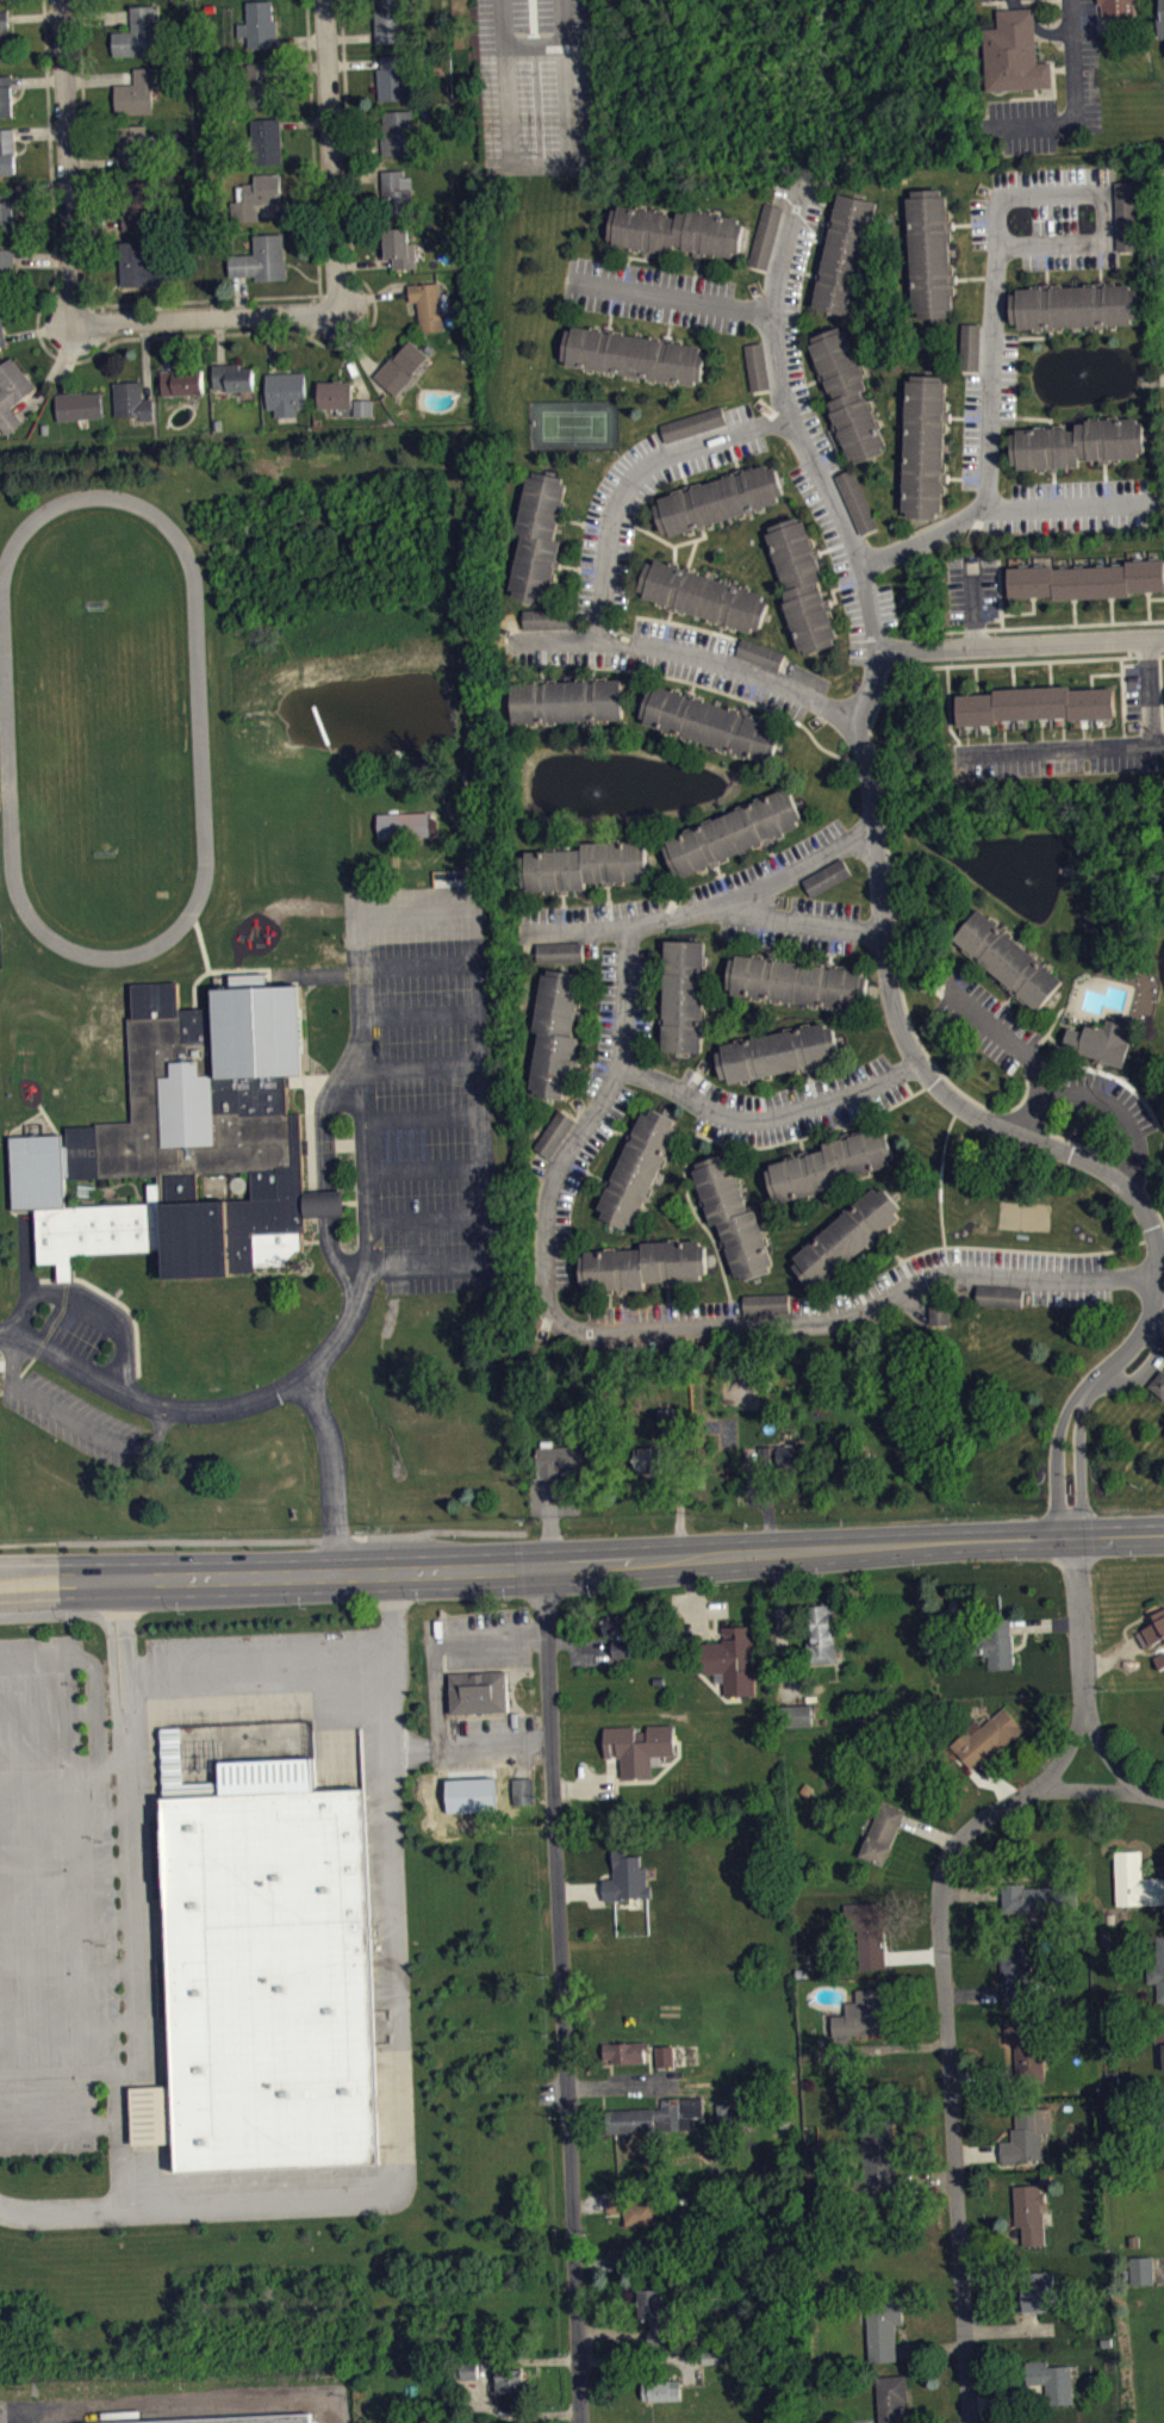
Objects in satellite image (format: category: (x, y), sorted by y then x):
building: (137, 0)
parking lot: (998, 0)
building: (5, 4)
building: (1118, 6)
building: (1159, 17)
building: (393, 20)
building: (259, 25)
building: (2, 26)
building: (142, 33)
building: (1014, 52)
parking lot: (1085, 66)
building: (392, 77)
building: (264, 83)
parking lot: (539, 86)
building: (136, 91)
building: (5, 95)
road: (1076, 97)
parking lot: (1017, 126)
building: (398, 131)
road: (347, 135)
building: (266, 141)
building: (132, 144)
building: (6, 150)
road: (85, 151)
road: (330, 156)
road: (68, 162)
building: (397, 192)
building: (257, 194)
building: (138, 204)
building: (10, 210)
building: (1126, 213)
parking lot: (1050, 217)
road: (1102, 219)
road: (960, 224)
building: (677, 230)
building: (765, 235)
building: (400, 247)
building: (929, 253)
building: (846, 254)
road: (636, 256)
building: (262, 259)
road: (318, 261)
road: (697, 265)
building: (143, 267)
building: (6, 268)
road: (975, 277)
road: (1100, 277)
road: (1046, 279)
parking lot: (654, 293)
road: (677, 298)
building: (430, 304)
road: (89, 305)
building: (1075, 305)
road: (206, 319)
parking lot: (796, 319)
road: (609, 323)
building: (2, 333)
road: (668, 333)
road: (1040, 336)
building: (970, 344)
building: (634, 354)
road: (71, 360)
building: (757, 365)
building: (402, 367)
building: (232, 377)
building: (182, 380)
building: (12, 392)
building: (286, 392)
building: (848, 393)
building: (342, 397)
building: (131, 399)
building: (77, 404)
parking lot: (988, 409)
building: (365, 416)
road: (1035, 416)
road: (956, 417)
road: (991, 421)
road: (795, 422)
park: (573, 423)
building: (693, 423)
building: (1076, 442)
building: (923, 445)
road: (1103, 470)
road: (1053, 476)
road: (952, 477)
building: (718, 497)
building: (855, 499)
parking lot: (1069, 505)
road: (1064, 507)
parking lot: (612, 515)
road: (572, 518)
building: (537, 536)
road: (673, 543)
road: (823, 549)
road: (691, 553)
road: (569, 566)
parking lot: (847, 573)
building: (1087, 579)
building: (802, 584)
parking lot: (971, 589)
road: (1000, 591)
road: (833, 594)
building: (703, 595)
road: (1156, 597)
road: (973, 602)
road: (604, 604)
road: (1149, 604)
road: (1110, 609)
road: (1075, 610)
road: (1025, 611)
building: (546, 617)
road: (655, 619)
road: (1052, 625)
building: (547, 627)
road: (703, 628)
road: (720, 629)
road: (556, 636)
road: (1020, 644)
road: (1128, 647)
building: (760, 653)
road: (1120, 657)
parking lot: (661, 659)
road: (1004, 663)
road: (1050, 673)
road: (1013, 676)
road: (976, 678)
road: (1121, 682)
road: (691, 689)
road: (1160, 689)
road: (730, 694)
building: (567, 700)
road: (950, 704)
building: (1035, 704)
road: (747, 708)
building: (712, 723)
parking lot: (1150, 725)
road: (1063, 727)
road: (1103, 727)
track: (105, 728)
road: (1041, 728)
road: (1084, 728)
road: (1026, 729)
road: (1163, 729)
road: (1003, 731)
road: (967, 734)
road: (1157, 746)
road: (1108, 748)
building: (733, 832)
building: (407, 833)
building: (583, 865)
building: (826, 876)
building: (828, 886)
parking lot: (686, 894)
road: (703, 909)
road: (801, 919)
parking lot: (807, 926)
road: (201, 945)
building: (559, 951)
building: (1008, 959)
road: (478, 965)
road: (225, 971)
building: (797, 981)
building: (684, 995)
parking lot: (620, 1007)
road: (421, 1018)
parking lot: (985, 1020)
road: (1051, 1027)
building: (555, 1032)
building: (1101, 1040)
road: (1021, 1049)
road: (1059, 1049)
building: (778, 1051)
road: (910, 1051)
road: (1098, 1066)
road: (423, 1070)
road: (809, 1073)
road: (1125, 1082)
road: (758, 1086)
road: (905, 1086)
parking lot: (419, 1088)
road: (343, 1092)
parking lot: (1101, 1095)
parking lot: (793, 1104)
road: (932, 1107)
road: (1119, 1108)
road: (770, 1116)
road: (48, 1118)
road: (425, 1118)
building: (554, 1132)
road: (624, 1132)
road: (813, 1132)
building: (197, 1139)
road: (7, 1154)
building: (830, 1163)
building: (639, 1167)
building: (38, 1172)
road: (427, 1172)
road: (599, 1175)
parking lot: (572, 1179)
road: (940, 1179)
road: (329, 1197)
building: (733, 1216)
road: (697, 1217)
road: (429, 1220)
building: (847, 1235)
road: (890, 1247)
road: (1009, 1248)
building: (643, 1265)
parking lot: (982, 1278)
road: (667, 1293)
building: (998, 1296)
road: (623, 1298)
building: (765, 1303)
building: (939, 1311)
parking lot: (664, 1312)
road: (651, 1332)
building: (1158, 1383)
road: (1082, 1406)
road: (204, 1412)
road: (1064, 1415)
parking lot: (76, 1418)
road: (74, 1419)
building: (661, 1446)
building: (786, 1454)
building: (562, 1460)
road: (334, 1474)
road: (581, 1562)
road: (1082, 1627)
building: (611, 1634)
building: (821, 1636)
building: (1153, 1638)
building: (991, 1641)
building: (732, 1658)
road: (309, 1677)
road: (435, 1689)
building: (479, 1690)
building: (795, 1714)
building: (798, 1725)
road: (98, 1728)
road: (416, 1746)
building: (989, 1747)
building: (640, 1756)
road: (1115, 1766)
road: (117, 1773)
road: (1087, 1789)
building: (1134, 1880)
building: (629, 1887)
building: (1026, 1897)
road: (138, 1901)
building: (870, 1944)
building: (1159, 1972)
building: (270, 1978)
building: (1017, 1981)
road: (561, 1994)
building: (864, 2024)
road: (947, 2038)
building: (1028, 2058)
road: (400, 2061)
building: (1163, 2112)
building: (680, 2121)
building: (633, 2129)
building: (1029, 2144)
road: (124, 2148)
building: (880, 2170)
building: (636, 2217)
road: (70, 2218)
building: (1032, 2222)
building: (637, 2261)
building: (1144, 2279)
building: (1039, 2300)
building: (882, 2324)
building: (658, 2325)
building: (1044, 2379)
building: (512, 2390)
building: (664, 2399)
building: (892, 2403)
building: (220, 2418)

